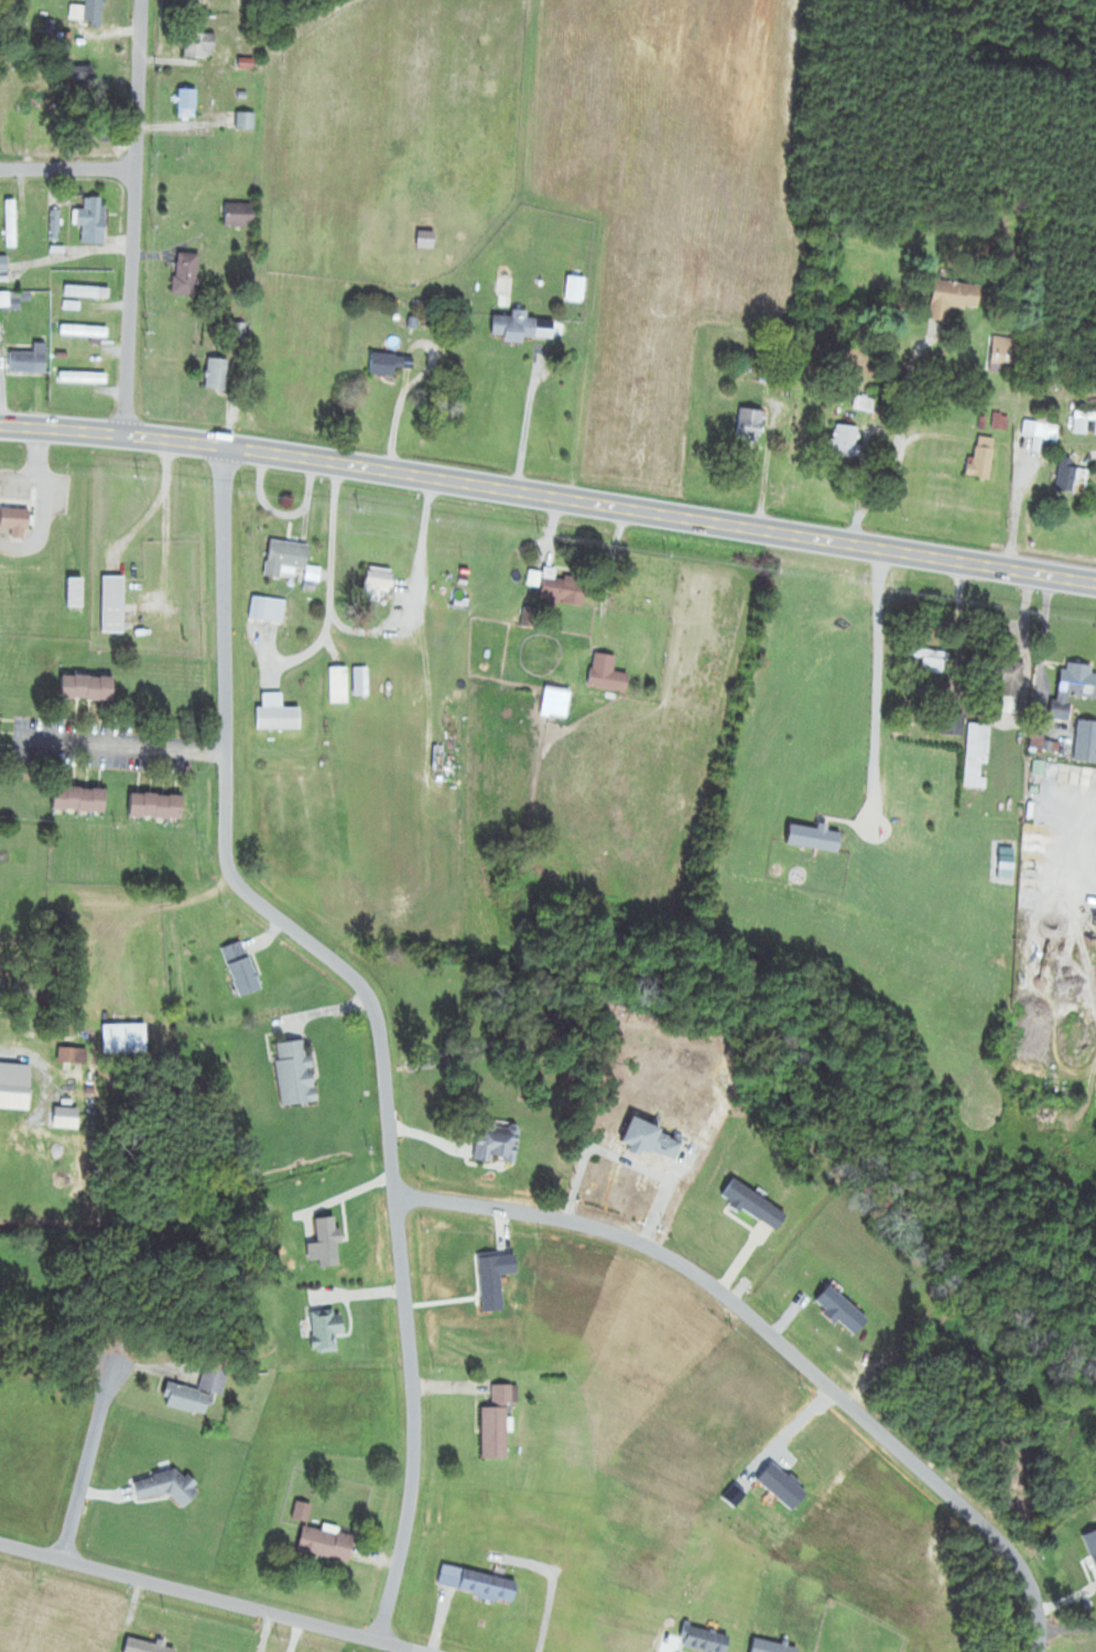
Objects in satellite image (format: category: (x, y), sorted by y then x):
building: (88, 12)
building: (200, 46)
building: (84, 74)
building: (188, 102)
building: (247, 121)
road: (68, 169)
building: (240, 215)
road: (134, 217)
building: (95, 222)
building: (11, 224)
building: (3, 268)
building: (187, 274)
building: (507, 285)
building: (83, 292)
building: (955, 299)
building: (10, 301)
building: (517, 327)
building: (85, 332)
building: (1006, 355)
building: (31, 360)
building: (391, 364)
building: (217, 375)
building: (83, 378)
building: (752, 427)
road: (112, 434)
building: (1039, 434)
building: (848, 442)
building: (984, 458)
building: (1073, 479)
road: (661, 515)
building: (17, 522)
building: (285, 558)
building: (382, 580)
building: (565, 591)
building: (76, 593)
building: (113, 604)
building: (268, 609)
building: (927, 661)
building: (608, 673)
road: (876, 680)
building: (89, 688)
building: (1011, 688)
building: (1074, 692)
building: (278, 714)
building: (954, 723)
road: (124, 742)
building: (1087, 743)
building: (978, 755)
building: (82, 798)
building: (159, 805)
building: (243, 968)
road: (377, 1014)
building: (127, 1037)
building: (74, 1055)
building: (297, 1073)
building: (15, 1092)
building: (655, 1140)
building: (499, 1143)
building: (327, 1330)
road: (778, 1343)
building: (198, 1392)
building: (499, 1423)
road: (88, 1467)
building: (169, 1487)
building: (327, 1544)
building: (480, 1584)
road: (208, 1597)
road: (267, 1632)

